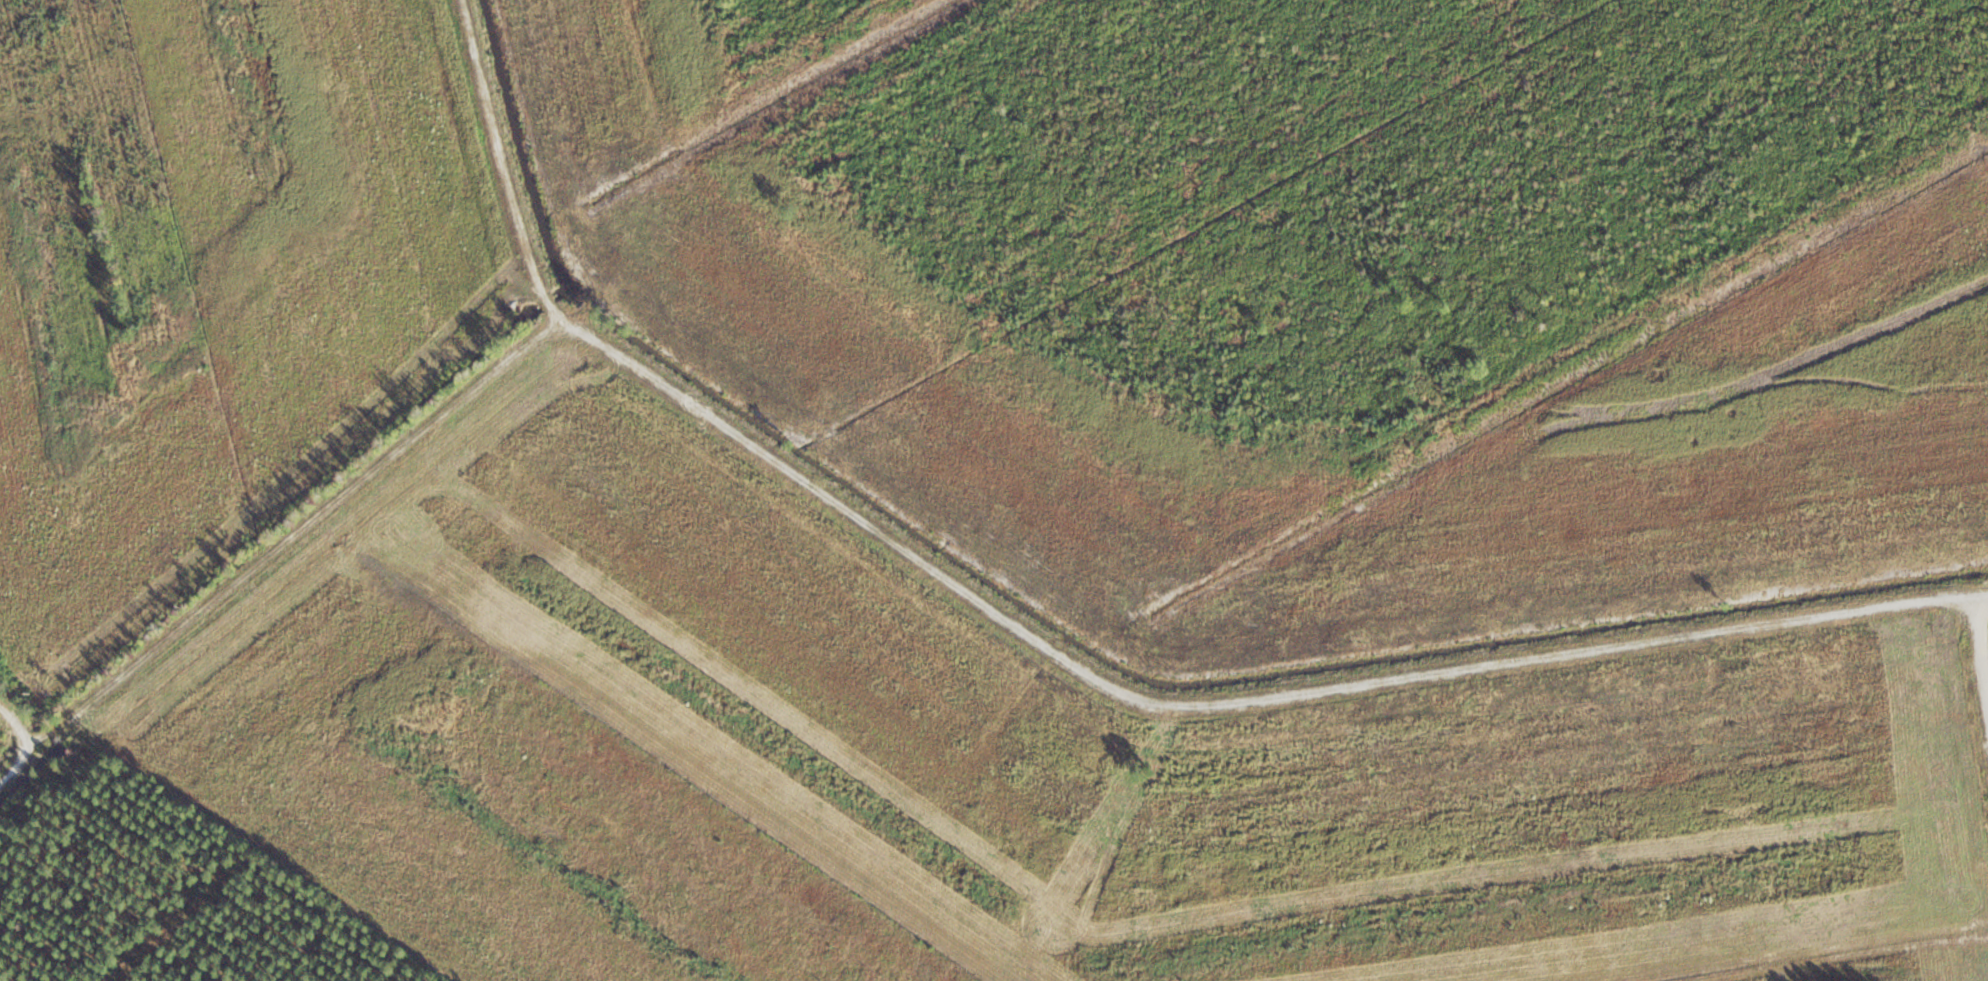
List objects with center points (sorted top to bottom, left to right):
road: (476, 188)
road: (908, 629)
road: (16, 724)
road: (1964, 836)

